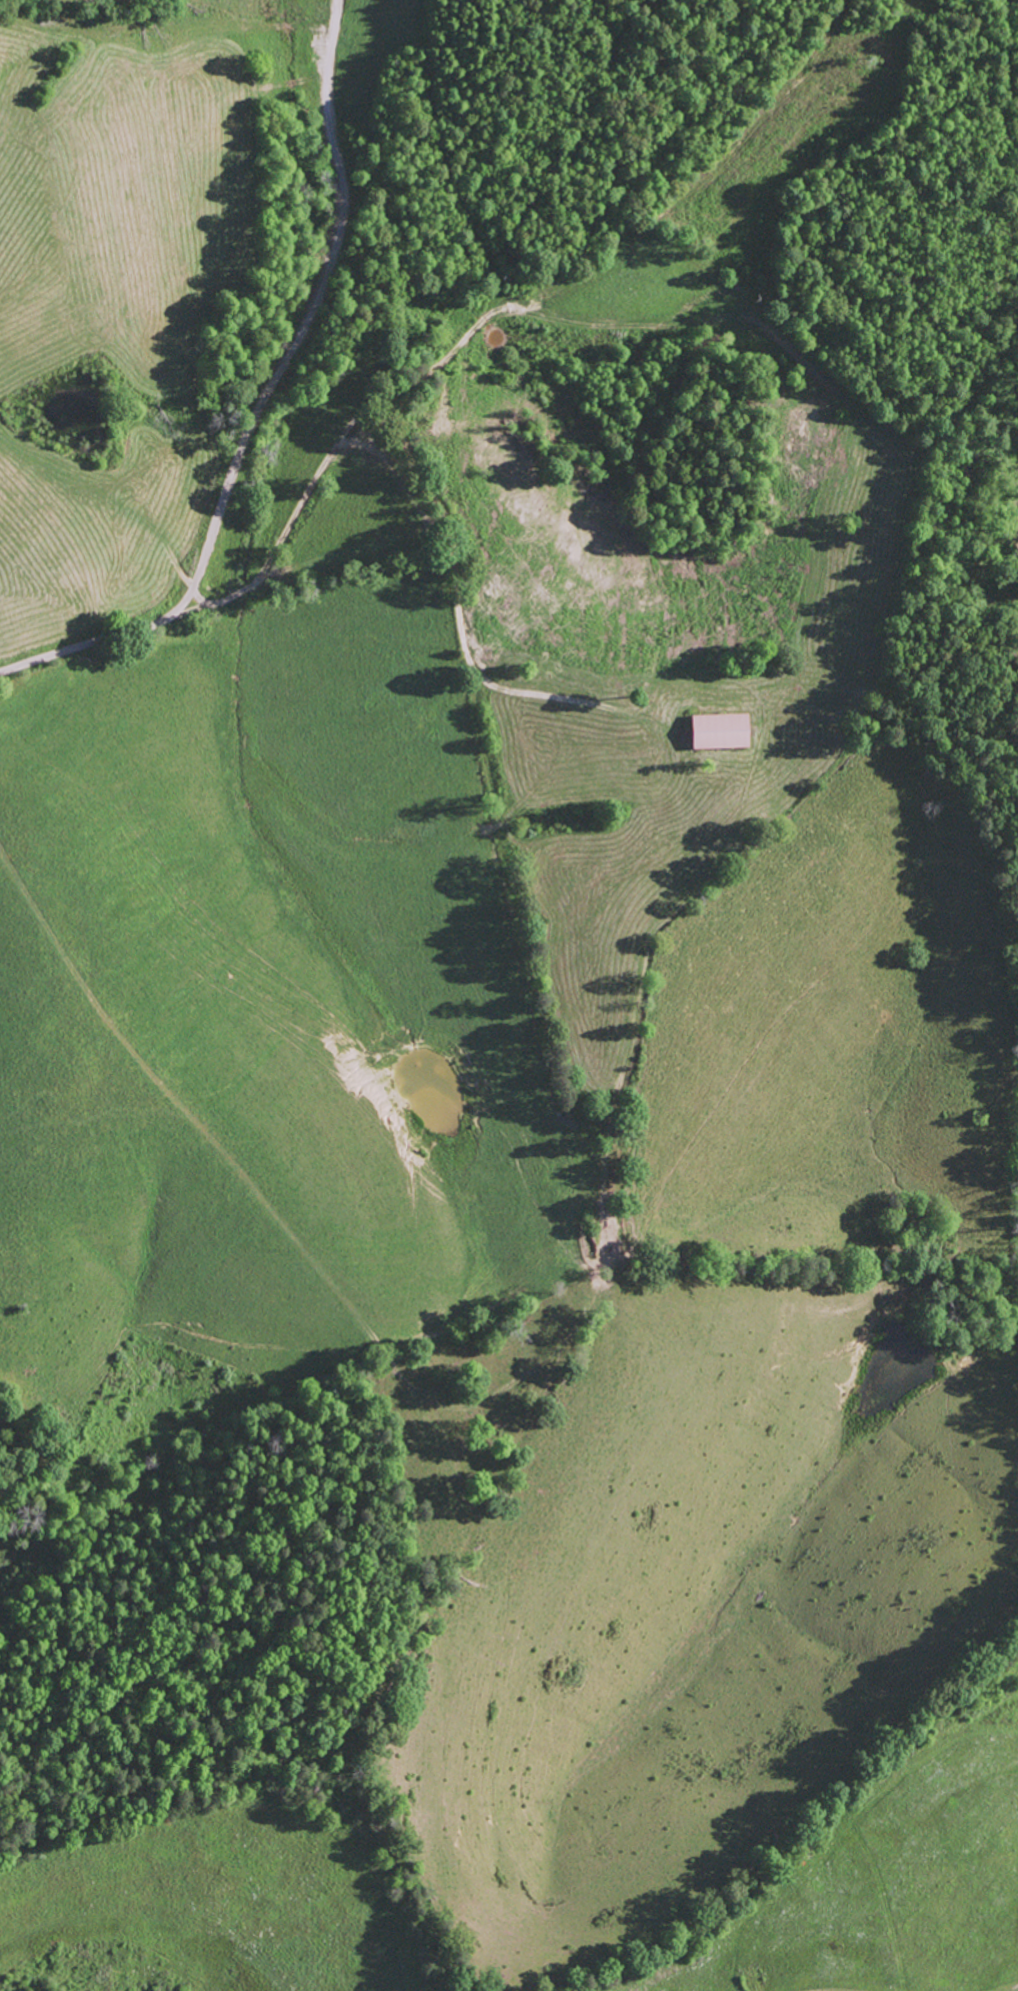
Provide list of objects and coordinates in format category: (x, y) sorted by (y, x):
road: (264, 395)
building: (713, 731)
road: (1011, 1988)

